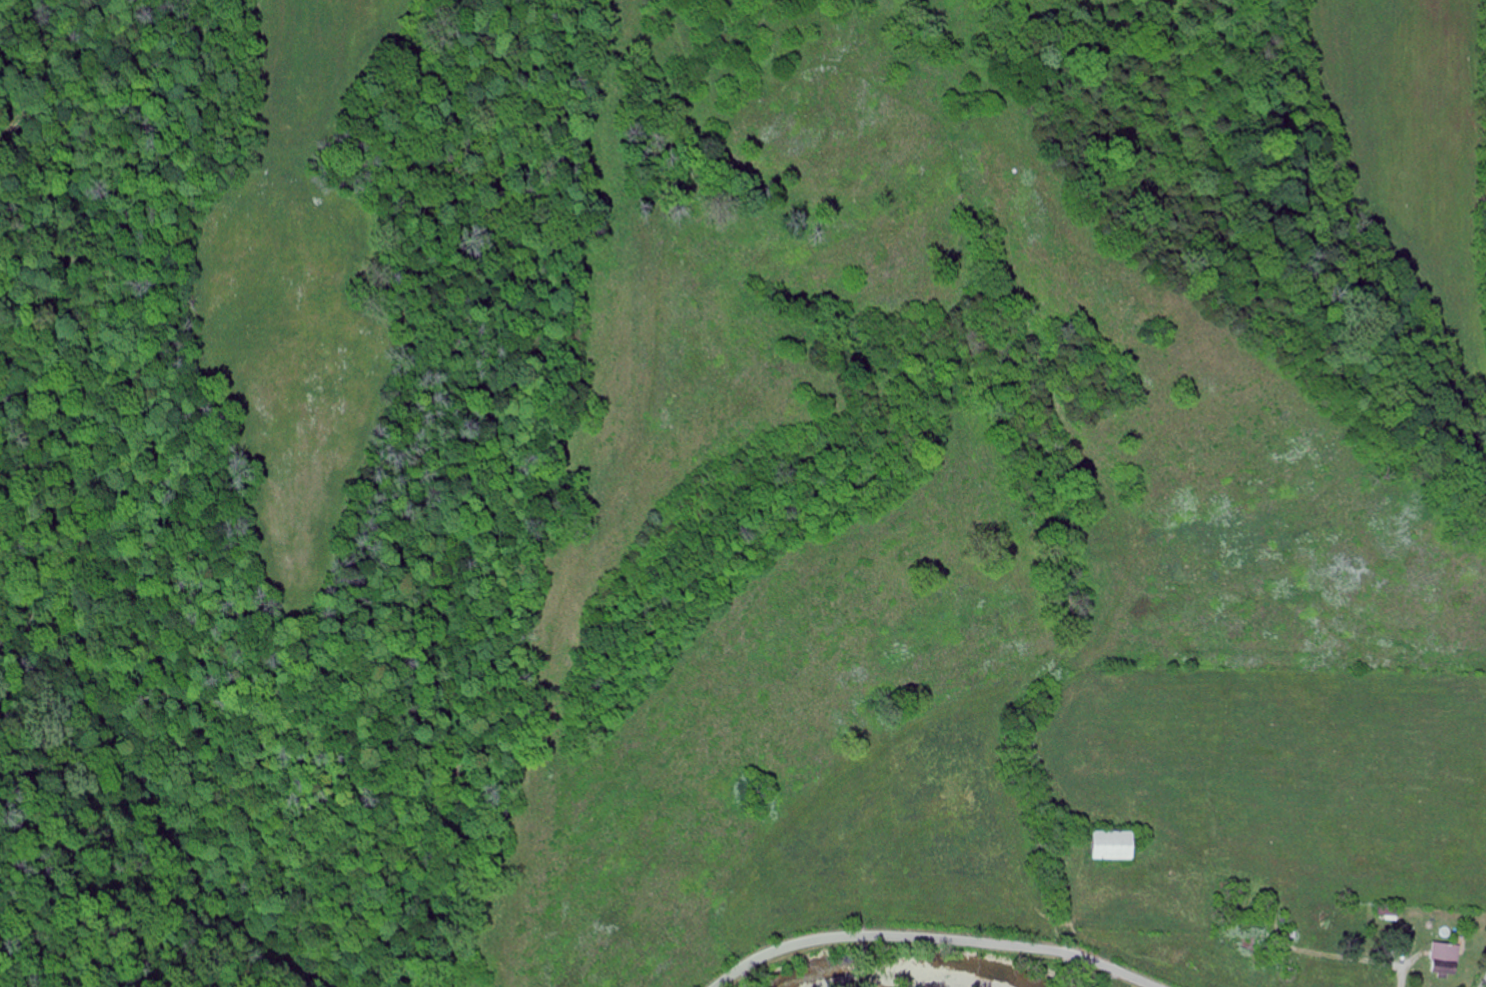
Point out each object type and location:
building: (1121, 846)
road: (932, 939)
building: (1439, 957)
road: (1397, 971)
road: (1484, 984)

